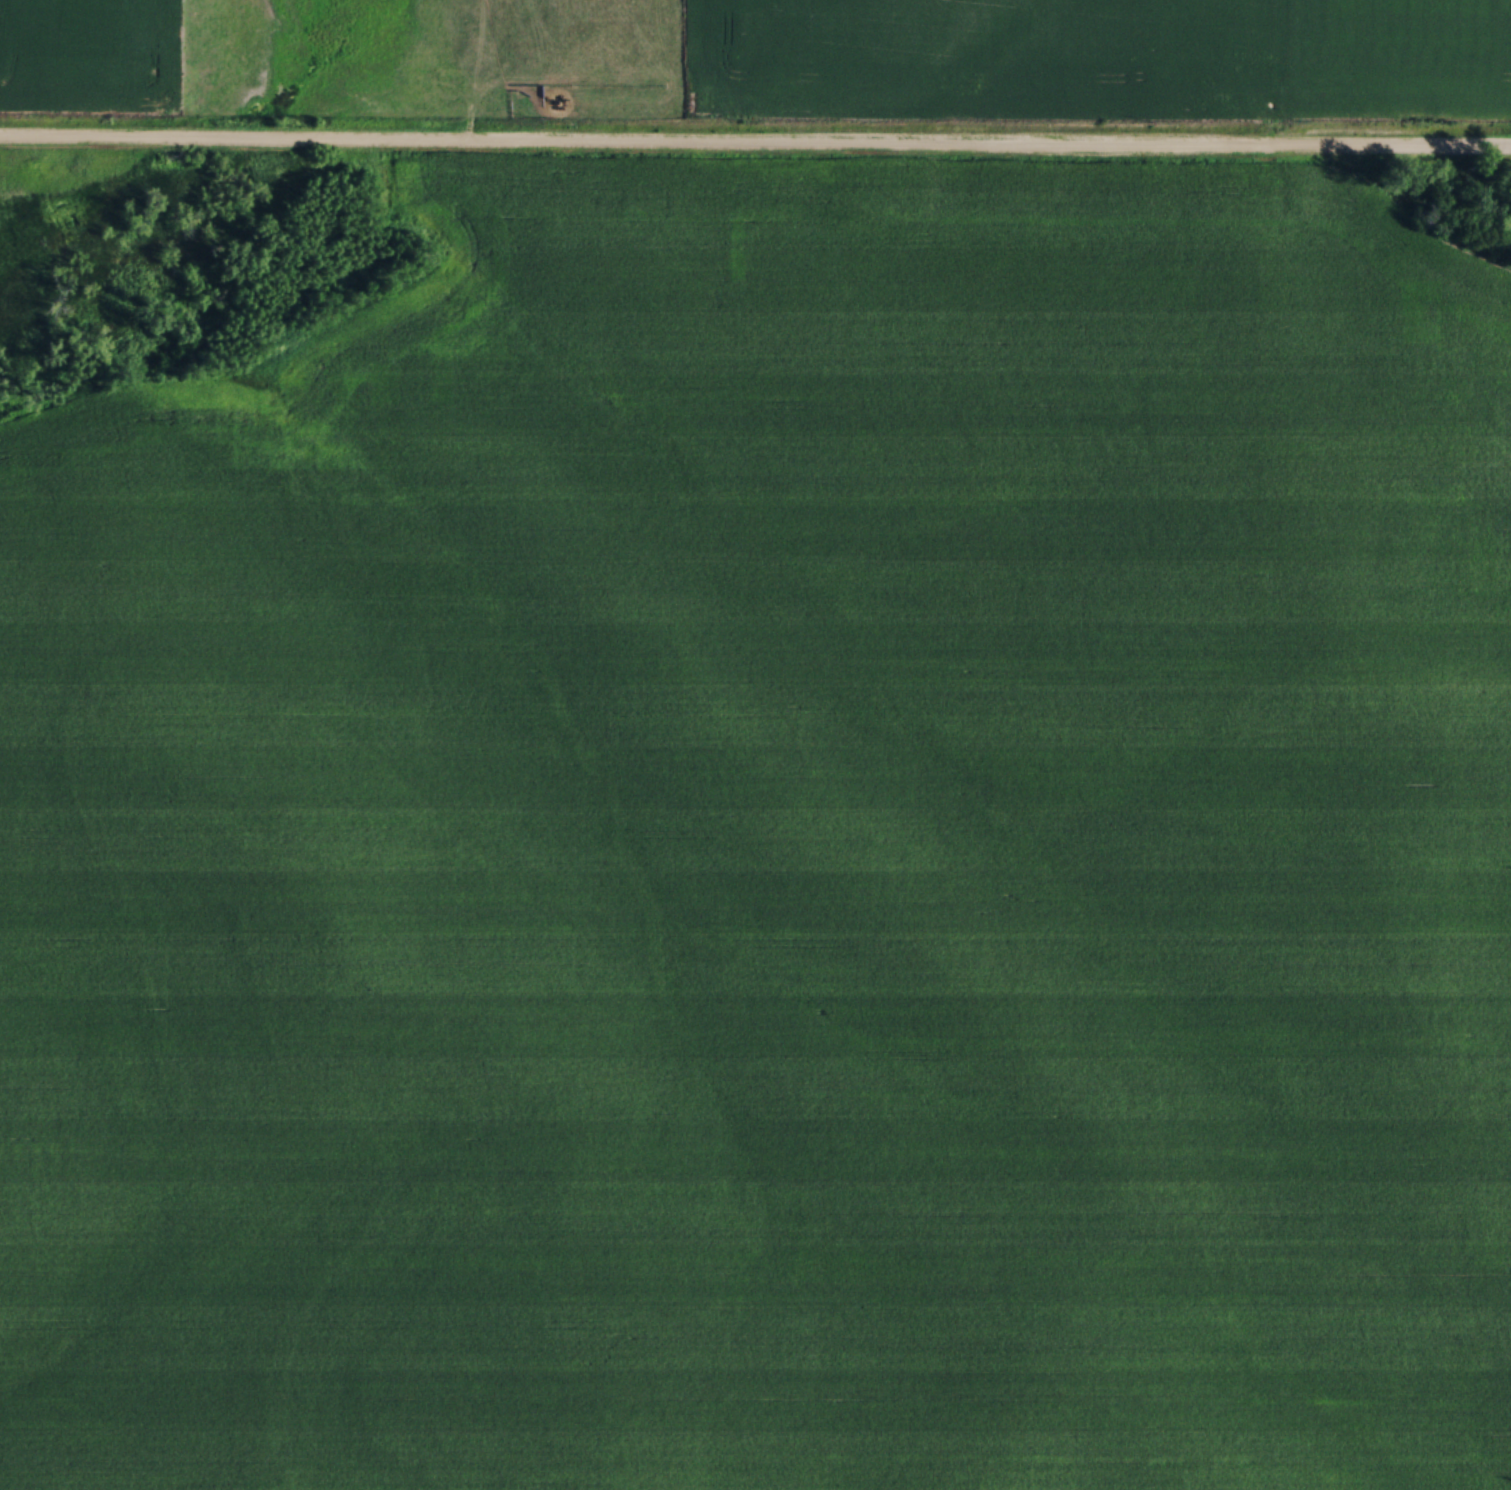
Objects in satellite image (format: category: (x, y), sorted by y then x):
road: (755, 146)

